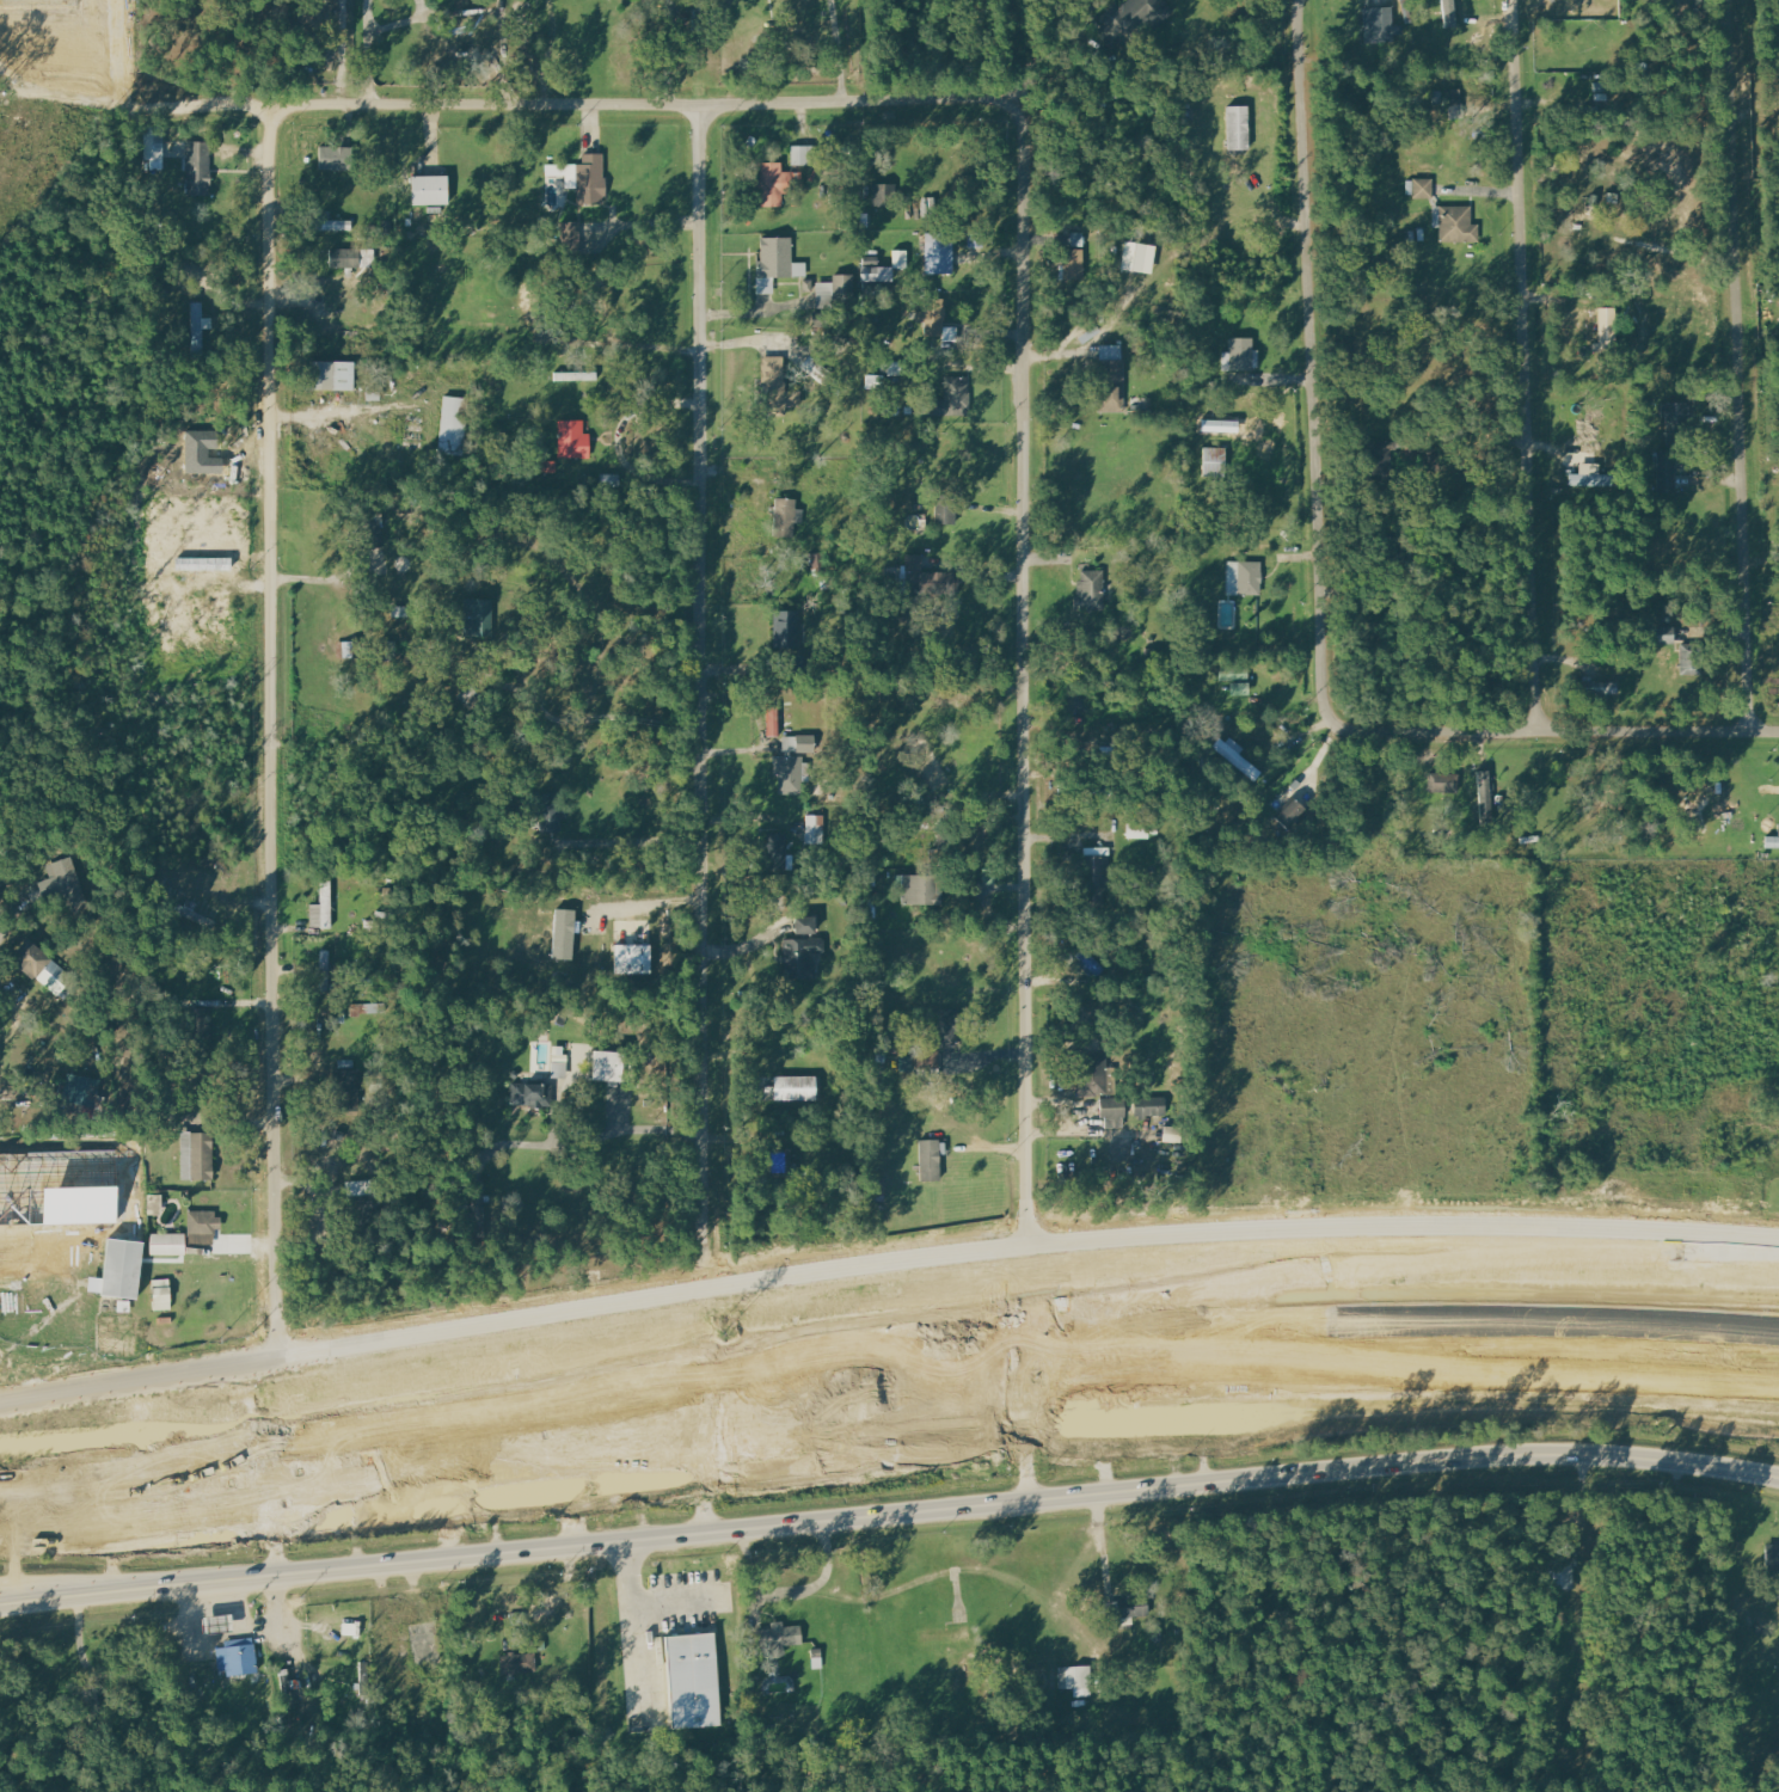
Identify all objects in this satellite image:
building: (1449, 13)
building: (1136, 16)
road: (369, 17)
road: (401, 23)
building: (1379, 25)
road: (840, 51)
road: (1038, 56)
road: (368, 72)
building: (1450, 96)
road: (639, 109)
building: (1239, 128)
building: (154, 148)
building: (804, 155)
building: (330, 159)
building: (200, 168)
building: (584, 178)
building: (768, 186)
building: (1421, 189)
building: (430, 190)
building: (879, 196)
building: (323, 223)
road: (645, 223)
building: (1455, 225)
building: (571, 238)
building: (1069, 239)
building: (939, 254)
building: (344, 257)
building: (1139, 258)
building: (775, 263)
building: (1074, 264)
building: (877, 274)
building: (845, 287)
building: (938, 321)
building: (200, 325)
building: (1607, 331)
road: (638, 351)
building: (1239, 355)
road: (1738, 364)
road: (1526, 366)
building: (333, 375)
building: (573, 376)
building: (1112, 379)
building: (772, 386)
road: (1312, 387)
building: (957, 395)
building: (1675, 422)
building: (453, 425)
building: (573, 440)
road: (619, 442)
building: (1215, 461)
building: (1667, 473)
building: (1587, 475)
building: (946, 515)
building: (787, 517)
building: (370, 535)
building: (1246, 578)
building: (928, 579)
road: (327, 584)
building: (1091, 590)
building: (479, 618)
building: (1680, 633)
building: (385, 651)
road: (1029, 663)
building: (1234, 671)
building: (1600, 688)
building: (1240, 689)
road: (706, 701)
building: (1078, 706)
building: (774, 722)
road: (276, 732)
road: (1581, 732)
building: (1235, 756)
building: (790, 769)
building: (1444, 784)
building: (1487, 794)
building: (548, 811)
building: (1292, 815)
building: (815, 830)
road: (634, 841)
building: (1773, 842)
building: (775, 849)
building: (1096, 873)
building: (62, 883)
building: (916, 890)
road: (652, 898)
building: (323, 909)
building: (196, 919)
building: (564, 934)
building: (802, 949)
building: (633, 959)
building: (30, 961)
building: (1090, 962)
building: (321, 970)
building: (939, 1029)
building: (607, 1066)
building: (1096, 1076)
building: (795, 1087)
building: (80, 1088)
building: (529, 1094)
building: (1152, 1106)
building: (1114, 1112)
road: (1079, 1113)
building: (1173, 1134)
road: (606, 1135)
building: (197, 1155)
building: (930, 1159)
building: (203, 1226)
building: (167, 1244)
building: (119, 1269)
road: (884, 1271)
building: (161, 1294)
road: (74, 1296)
road: (1204, 1301)
road: (884, 1363)
road: (884, 1416)
building: (594, 1443)
road: (822, 1460)
building: (664, 1467)
road: (1029, 1503)
building: (1773, 1558)
building: (1562, 1573)
road: (790, 1588)
road: (139, 1595)
road: (671, 1597)
building: (1128, 1609)
road: (632, 1624)
building: (780, 1635)
building: (342, 1640)
building: (238, 1657)
building: (517, 1663)
building: (1076, 1677)
building: (695, 1680)

